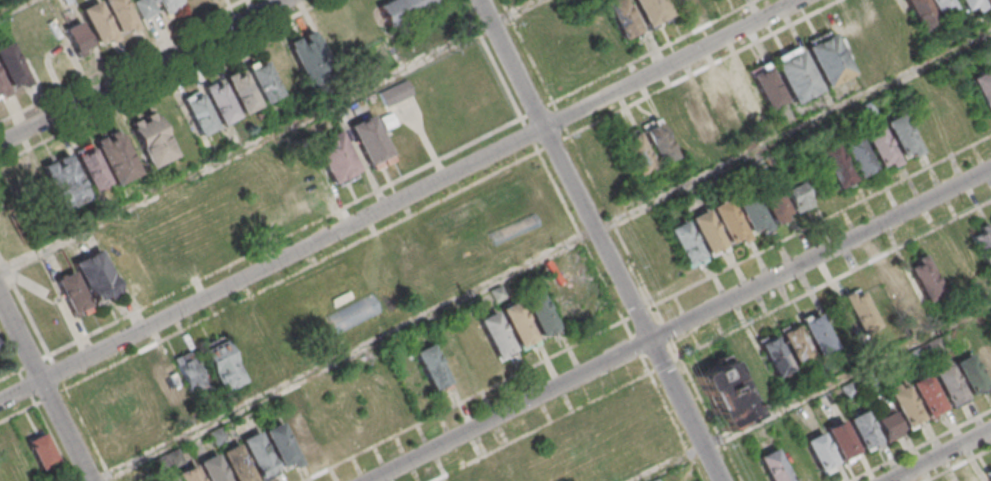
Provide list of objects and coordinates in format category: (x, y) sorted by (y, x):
building: (985, 0)
building: (684, 3)
building: (972, 4)
road: (14, 7)
building: (941, 7)
building: (154, 8)
building: (400, 8)
building: (651, 11)
building: (921, 14)
building: (119, 15)
building: (621, 18)
building: (97, 24)
building: (77, 38)
building: (851, 42)
building: (308, 52)
building: (827, 57)
road: (123, 61)
building: (11, 65)
road: (143, 72)
building: (795, 73)
road: (606, 77)
road: (690, 77)
building: (263, 81)
road: (164, 82)
building: (766, 88)
building: (983, 89)
building: (2, 91)
building: (241, 92)
building: (396, 95)
building: (744, 97)
building: (219, 103)
building: (724, 109)
building: (198, 113)
building: (702, 120)
building: (388, 122)
road: (531, 135)
road: (270, 136)
building: (901, 136)
building: (151, 140)
building: (657, 140)
building: (369, 142)
building: (879, 146)
building: (636, 152)
building: (857, 155)
building: (334, 156)
building: (836, 166)
building: (90, 168)
building: (63, 182)
building: (797, 197)
building: (772, 200)
road: (400, 201)
road: (345, 207)
building: (749, 211)
building: (990, 217)
building: (728, 221)
building: (706, 231)
road: (601, 240)
building: (684, 243)
building: (982, 243)
road: (546, 255)
building: (95, 275)
building: (923, 277)
road: (286, 280)
building: (900, 288)
building: (71, 293)
building: (575, 306)
road: (647, 306)
building: (859, 310)
building: (539, 314)
road: (681, 324)
building: (517, 325)
building: (816, 332)
building: (495, 336)
road: (713, 339)
road: (42, 340)
building: (795, 343)
building: (773, 355)
building: (985, 358)
building: (223, 368)
building: (430, 369)
building: (189, 373)
building: (971, 376)
building: (168, 384)
building: (950, 386)
road: (45, 387)
road: (814, 391)
building: (725, 394)
building: (928, 397)
road: (35, 403)
building: (907, 408)
building: (888, 426)
road: (677, 427)
building: (864, 432)
building: (217, 437)
building: (302, 438)
building: (842, 442)
road: (923, 447)
building: (281, 448)
building: (41, 453)
building: (821, 454)
road: (940, 455)
building: (258, 457)
building: (17, 460)
building: (236, 465)
road: (960, 465)
building: (774, 467)
building: (212, 470)
building: (188, 475)
building: (989, 478)
building: (171, 480)
building: (470, 480)

